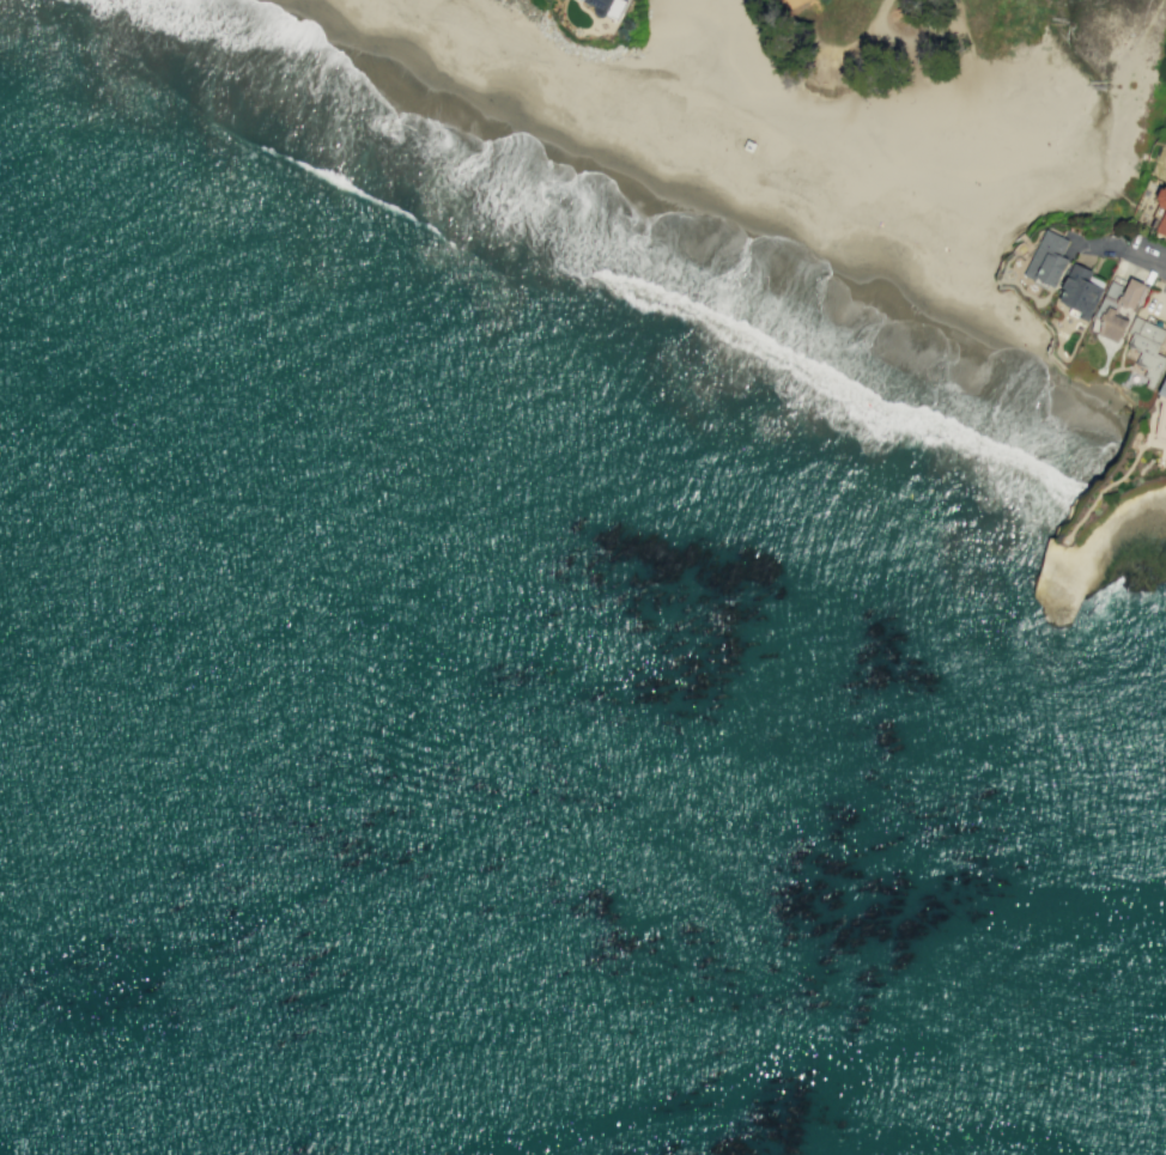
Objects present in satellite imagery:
building: (606, 6)
road: (958, 26)
road: (863, 35)
building: (822, 136)
building: (1161, 213)
road: (1152, 257)
building: (1047, 259)
building: (1080, 291)
building: (1131, 293)
building: (1147, 349)
building: (1165, 387)
park: (1106, 540)

